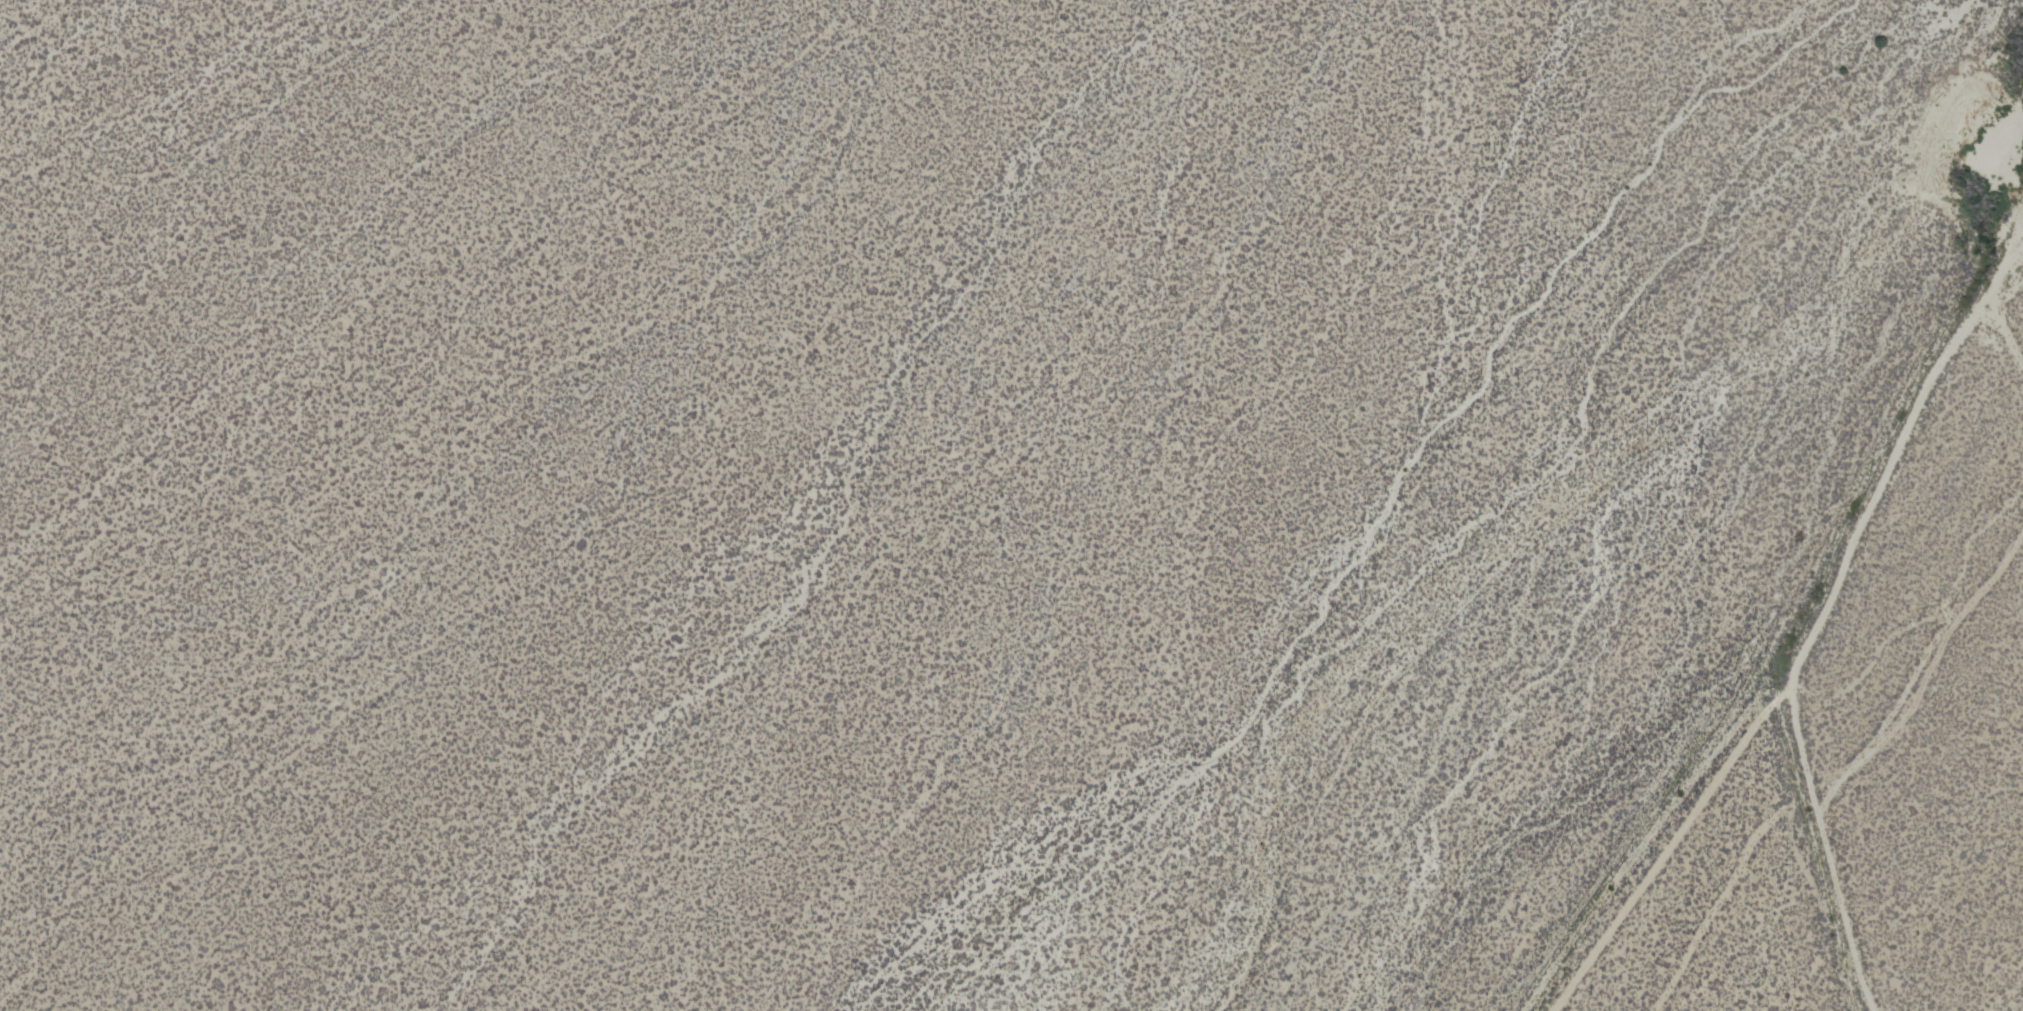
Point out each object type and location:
road: (2005, 338)
road: (1814, 640)
road: (1841, 780)
road: (1828, 857)

